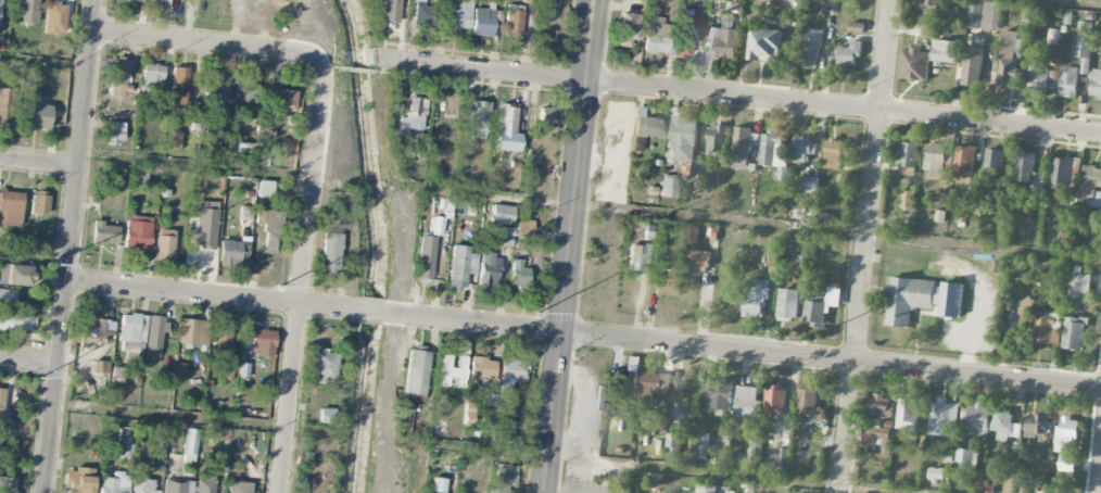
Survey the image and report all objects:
building: (138, 0)
building: (161, 2)
road: (1073, 2)
building: (391, 10)
building: (0, 11)
building: (25, 11)
building: (425, 12)
building: (458, 14)
building: (983, 14)
building: (54, 17)
building: (483, 21)
building: (514, 22)
building: (628, 29)
building: (1053, 36)
building: (657, 37)
building: (683, 37)
building: (1084, 40)
road: (206, 42)
building: (764, 45)
building: (720, 47)
building: (812, 49)
building: (945, 51)
building: (849, 53)
building: (1010, 59)
road: (42, 60)
building: (914, 64)
building: (972, 66)
building: (1041, 72)
building: (152, 76)
building: (119, 77)
building: (1068, 81)
building: (1096, 84)
building: (180, 88)
building: (246, 89)
building: (211, 98)
building: (281, 99)
road: (742, 99)
building: (5, 103)
building: (37, 115)
building: (414, 115)
building: (478, 118)
building: (546, 118)
building: (506, 121)
building: (648, 126)
building: (116, 131)
building: (716, 138)
building: (173, 139)
building: (420, 139)
building: (683, 139)
building: (742, 148)
building: (784, 150)
building: (833, 154)
building: (907, 154)
building: (935, 157)
building: (994, 160)
road: (37, 162)
building: (964, 162)
road: (193, 165)
building: (1025, 166)
building: (1062, 173)
building: (139, 175)
building: (810, 182)
building: (844, 184)
building: (668, 186)
building: (1090, 187)
building: (265, 188)
building: (907, 199)
building: (38, 202)
building: (10, 207)
building: (245, 212)
building: (502, 214)
building: (824, 218)
building: (204, 223)
building: (438, 225)
road: (750, 225)
building: (271, 228)
building: (137, 231)
building: (104, 233)
building: (506, 235)
building: (693, 235)
building: (164, 244)
road: (65, 245)
road: (866, 245)
road: (573, 246)
building: (330, 251)
building: (233, 253)
building: (426, 256)
building: (637, 256)
building: (775, 257)
building: (697, 262)
power tower: (52, 264)
building: (460, 266)
building: (488, 269)
building: (519, 273)
building: (14, 274)
road: (301, 279)
building: (666, 282)
building: (1080, 285)
power tower: (281, 287)
road: (206, 295)
building: (8, 299)
building: (756, 299)
building: (921, 299)
building: (788, 304)
building: (1025, 305)
building: (822, 307)
road: (375, 315)
power tower: (537, 315)
building: (16, 321)
building: (1049, 328)
building: (96, 329)
building: (193, 331)
building: (131, 332)
building: (1074, 333)
building: (154, 334)
building: (222, 338)
power tower: (807, 341)
building: (262, 342)
road: (748, 354)
road: (26, 361)
building: (322, 365)
building: (101, 366)
building: (481, 368)
power tower: (1060, 368)
building: (243, 369)
building: (452, 370)
building: (416, 372)
building: (117, 374)
building: (509, 374)
power tower: (40, 376)
building: (625, 379)
building: (649, 385)
building: (721, 394)
building: (775, 400)
building: (1, 401)
building: (747, 403)
building: (809, 406)
building: (878, 407)
building: (684, 410)
building: (470, 412)
building: (907, 413)
building: (942, 418)
road: (192, 419)
building: (978, 419)
building: (1004, 425)
building: (1035, 425)
building: (503, 429)
building: (873, 434)
building: (1066, 434)
building: (125, 441)
building: (0, 442)
building: (189, 443)
building: (672, 445)
building: (703, 445)
building: (747, 456)
road: (21, 459)
building: (965, 459)
building: (1067, 463)
road: (640, 464)
building: (936, 475)
building: (503, 477)
building: (79, 480)
building: (204, 482)
building: (115, 483)
road: (1100, 483)
building: (7, 484)
building: (438, 484)
building: (142, 486)
building: (176, 486)
building: (238, 486)
building: (716, 489)

